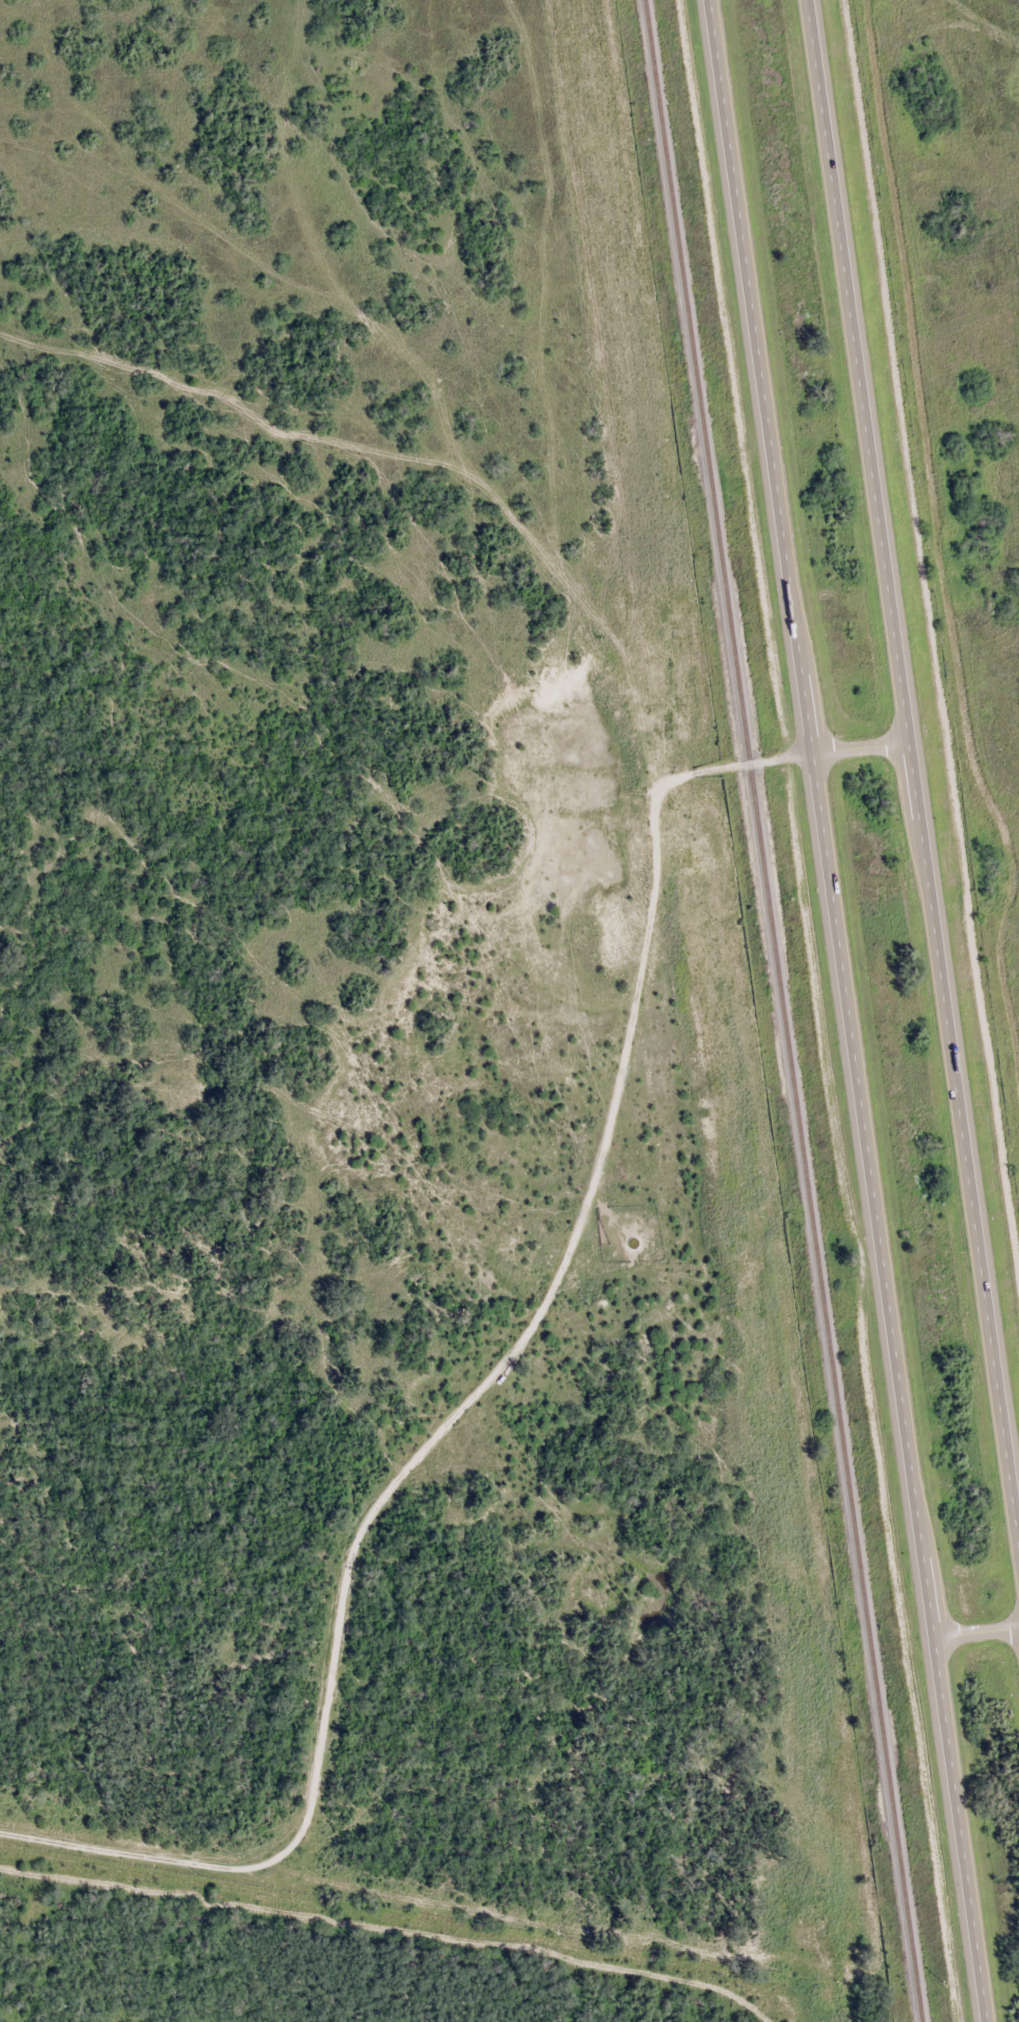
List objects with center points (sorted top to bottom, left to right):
road: (915, 761)
road: (826, 819)
railway: (777, 1011)
road: (466, 1391)
road: (979, 1633)
road: (962, 1830)

